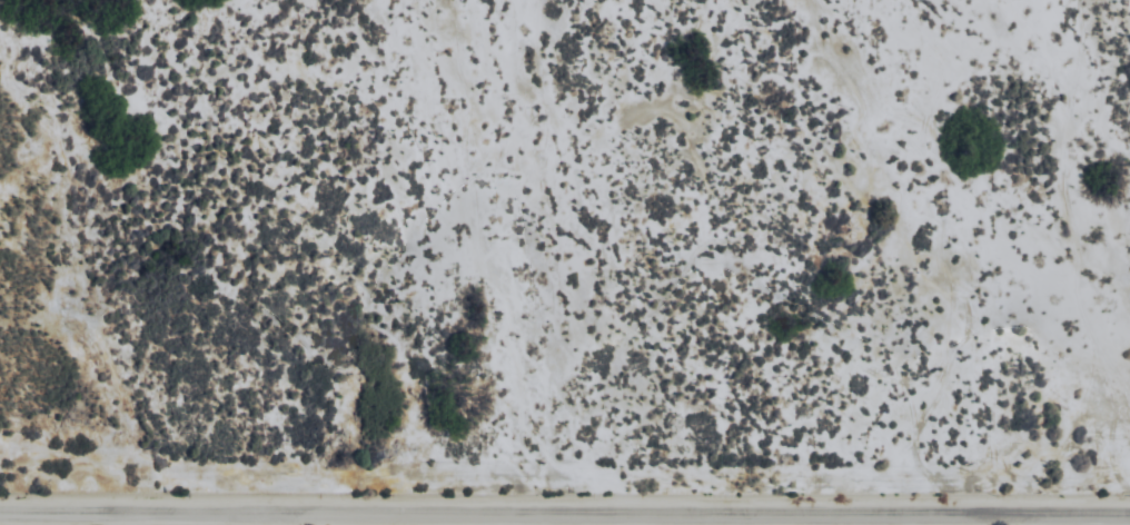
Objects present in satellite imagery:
road: (565, 515)

